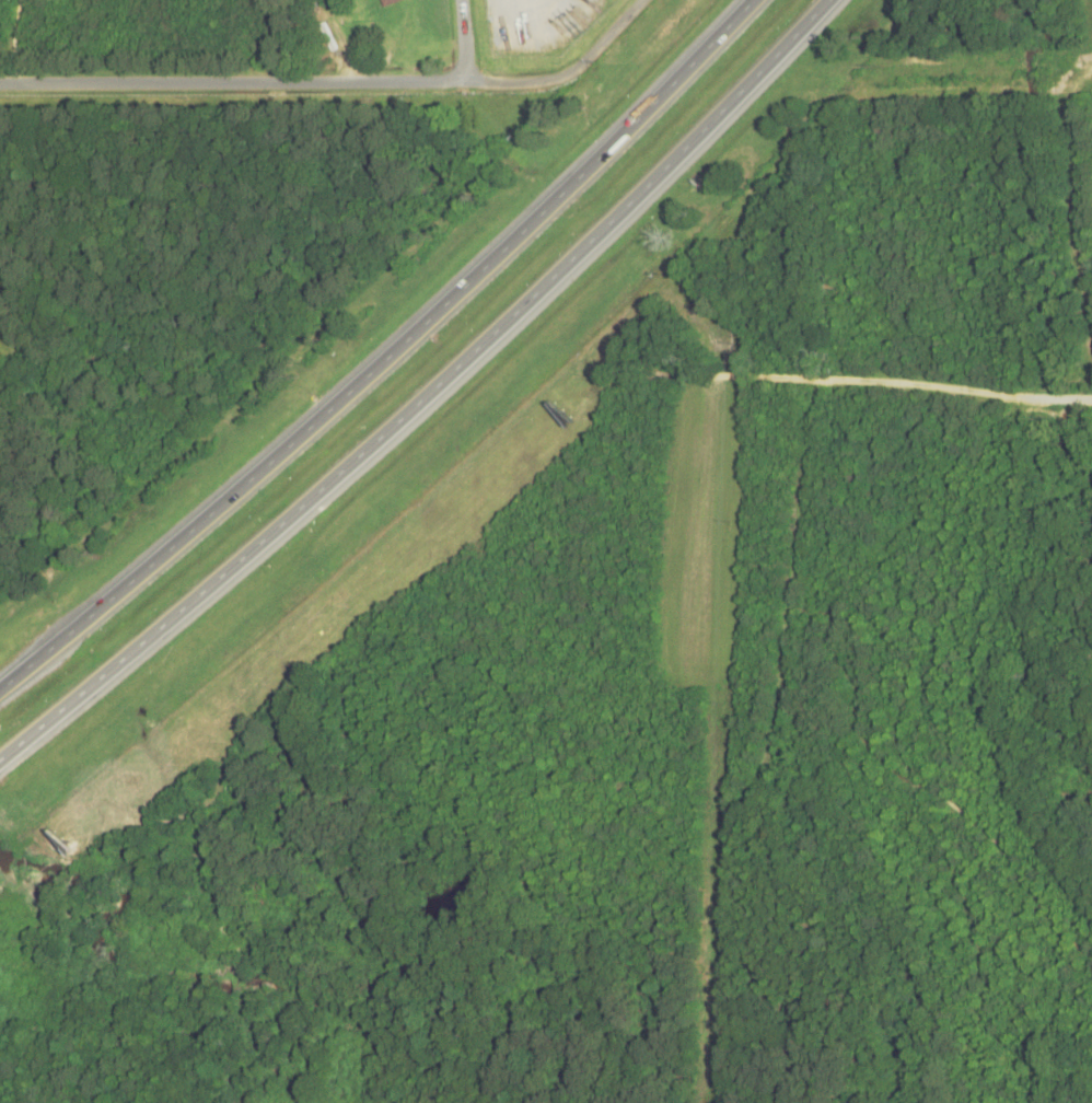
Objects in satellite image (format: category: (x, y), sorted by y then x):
building: (384, 1)
road: (565, 68)
road: (271, 79)
road: (387, 357)
road: (835, 375)
road: (425, 392)
river: (196, 985)

